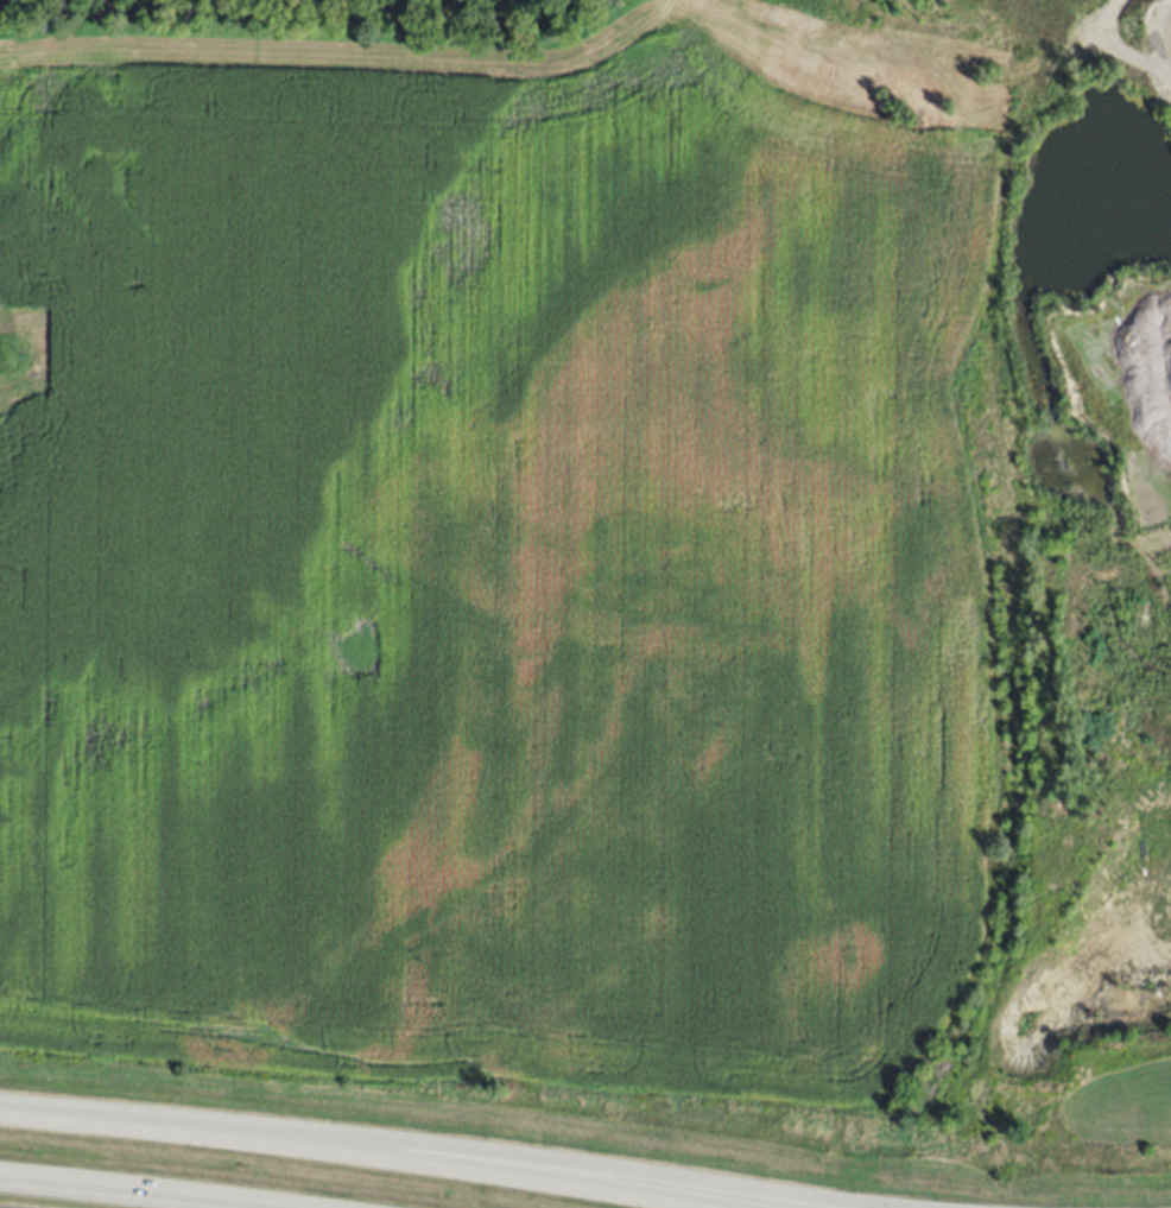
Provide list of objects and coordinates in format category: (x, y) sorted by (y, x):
quarry: (1082, 578)
road: (366, 1150)
road: (151, 1187)
road: (790, 1197)

